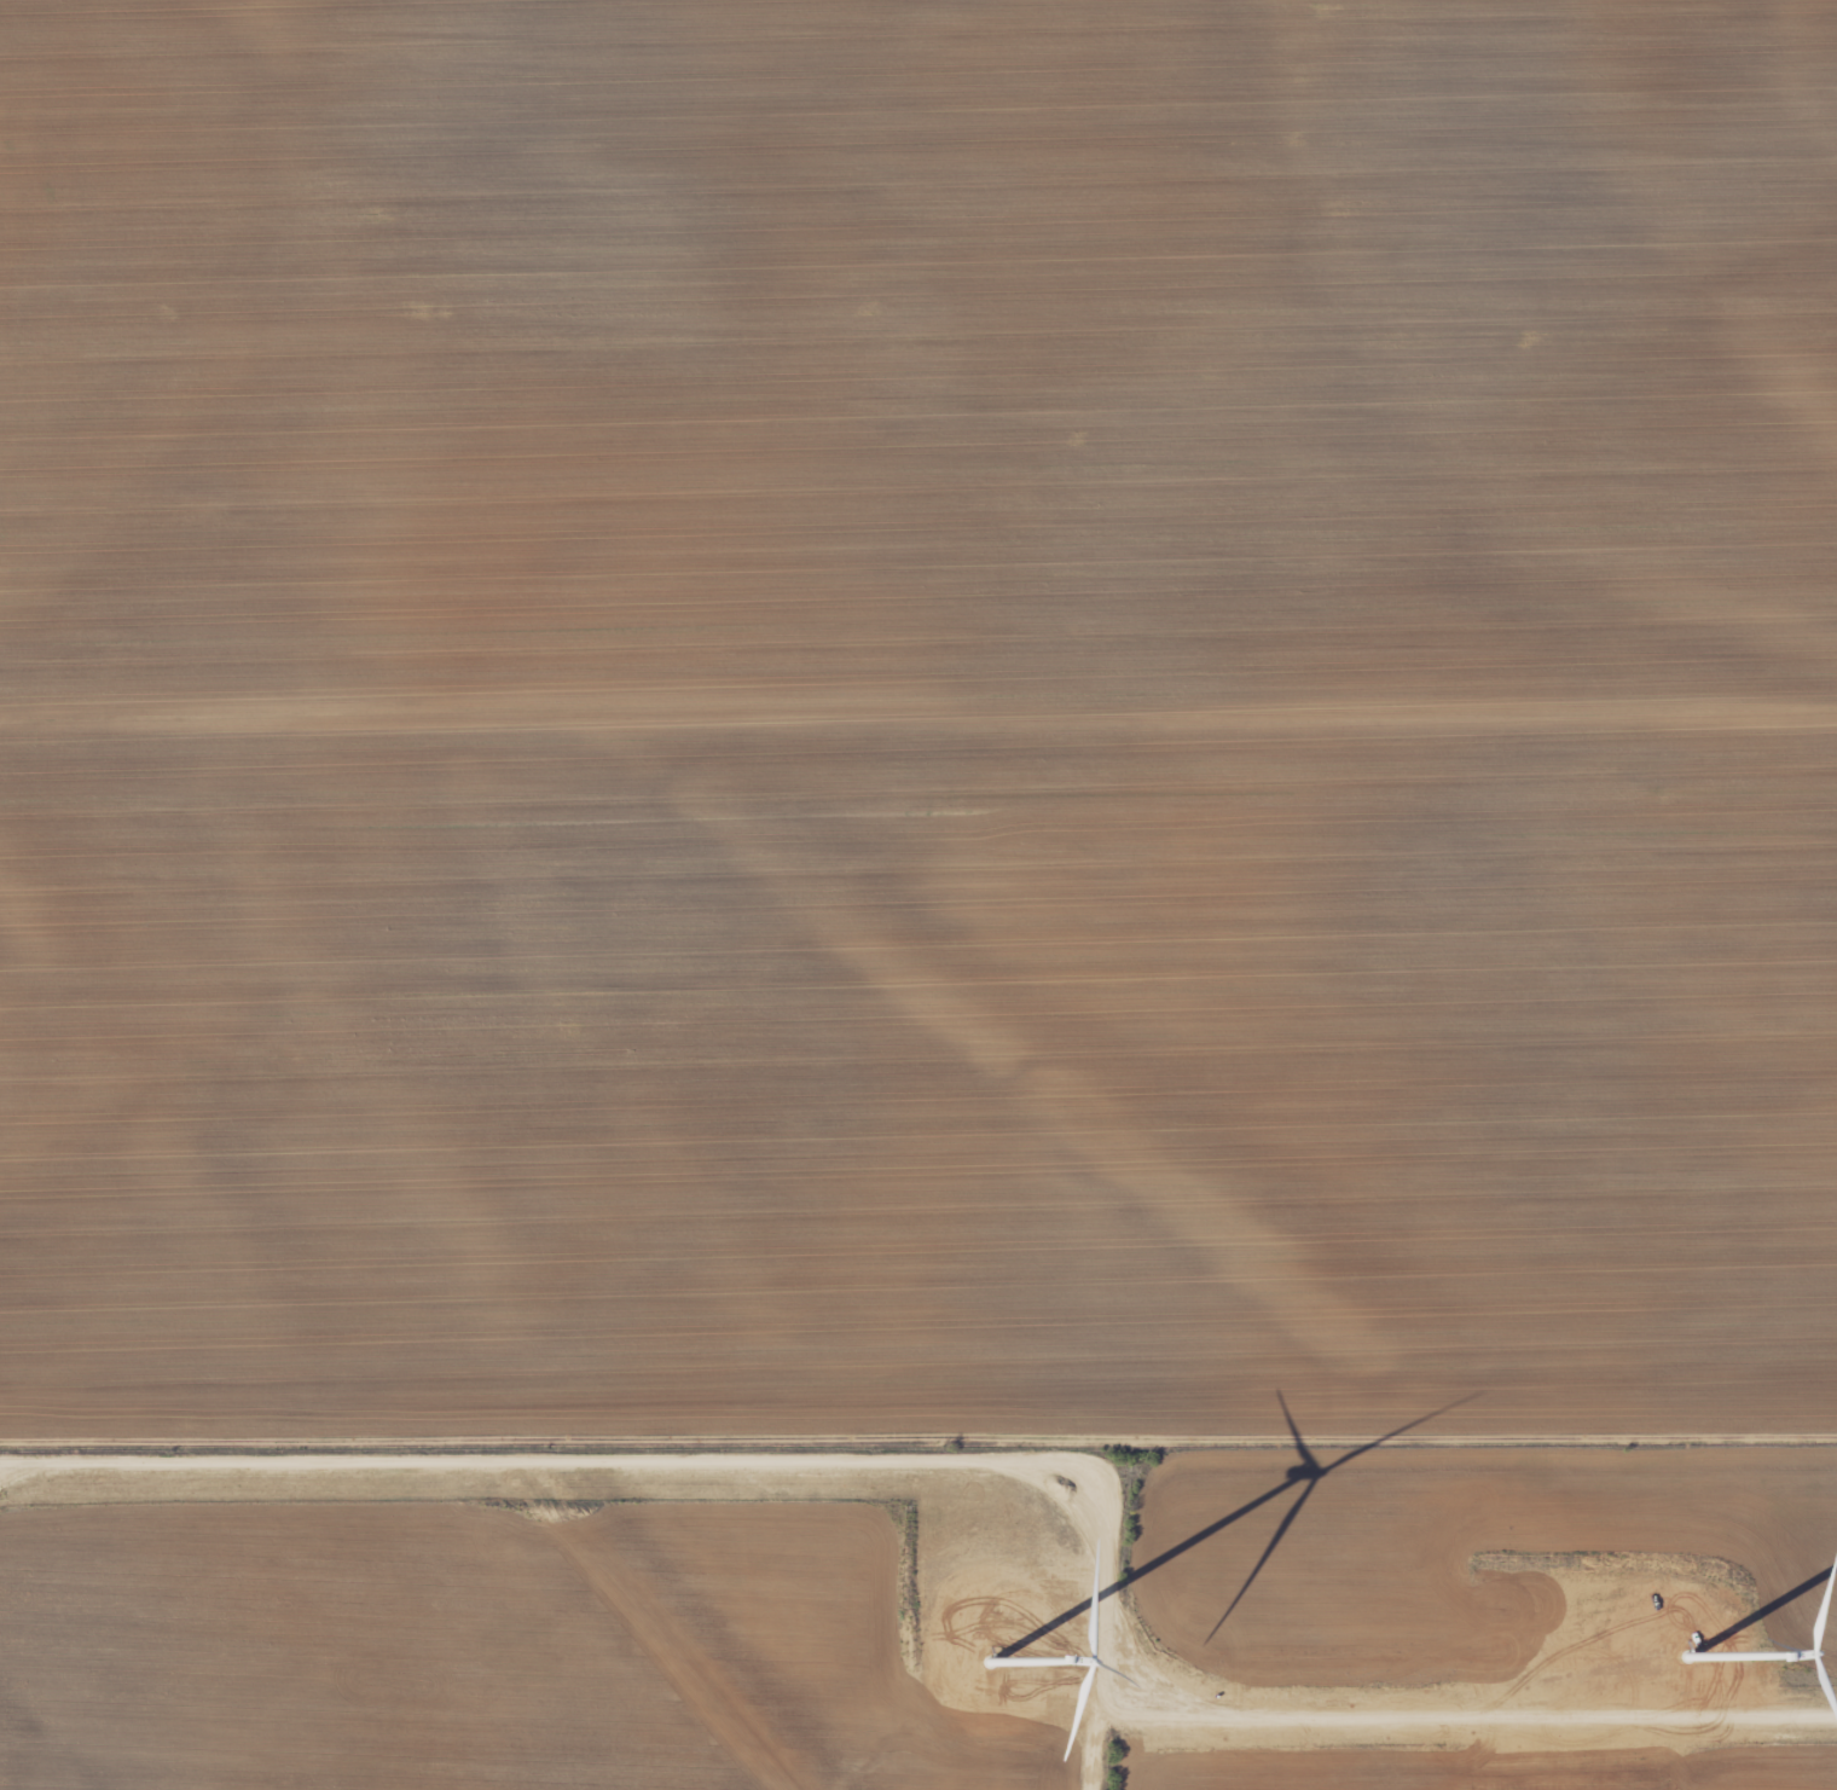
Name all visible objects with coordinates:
road: (918, 1444)
wind turbine: (996, 1653)
wind turbine: (1688, 1658)

